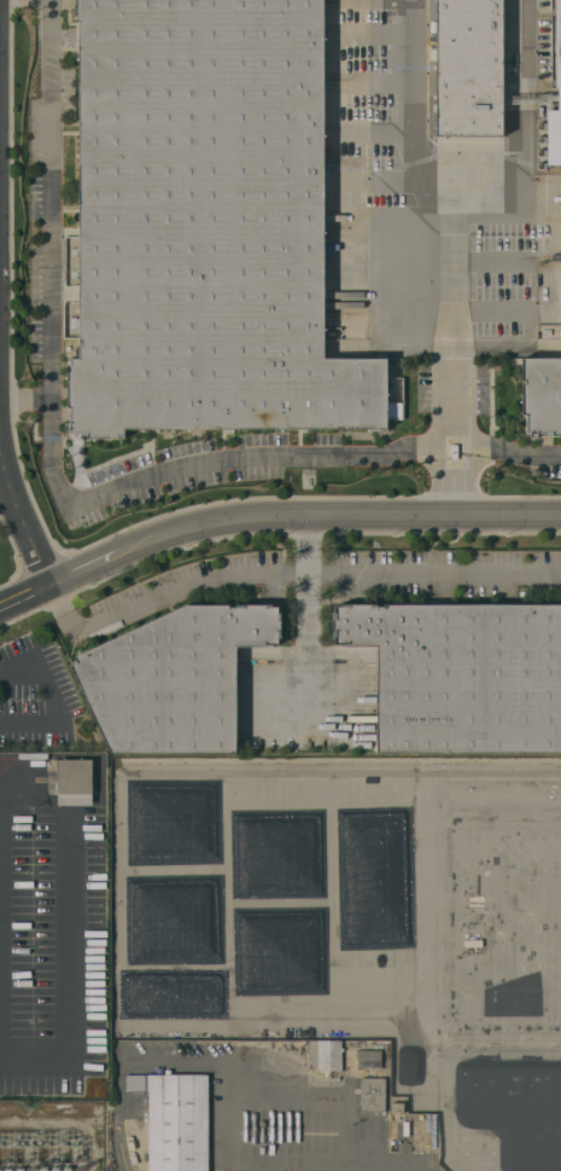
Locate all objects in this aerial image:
building: (469, 68)
building: (555, 95)
road: (429, 215)
building: (212, 222)
building: (543, 390)
road: (25, 398)
road: (451, 441)
road: (537, 452)
road: (57, 481)
road: (452, 485)
road: (25, 512)
road: (271, 517)
road: (286, 570)
road: (309, 615)
building: (462, 674)
building: (175, 678)
road: (54, 702)
road: (395, 773)
building: (75, 782)
road: (70, 973)
building: (325, 1055)
building: (369, 1059)
building: (372, 1094)
building: (397, 1107)
building: (175, 1119)
power substation: (51, 1135)
railway: (119, 1149)
road: (319, 1161)

